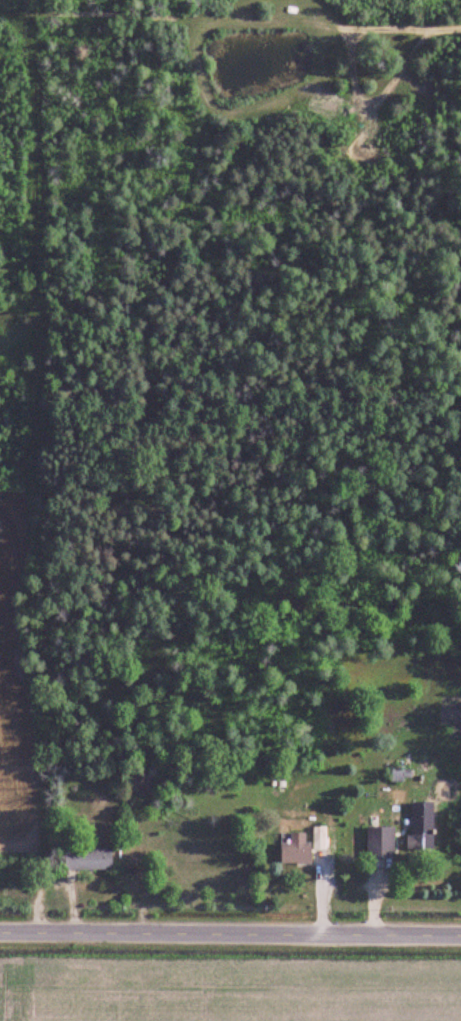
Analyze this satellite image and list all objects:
building: (422, 827)
building: (381, 842)
building: (298, 850)
building: (88, 860)
road: (230, 934)

